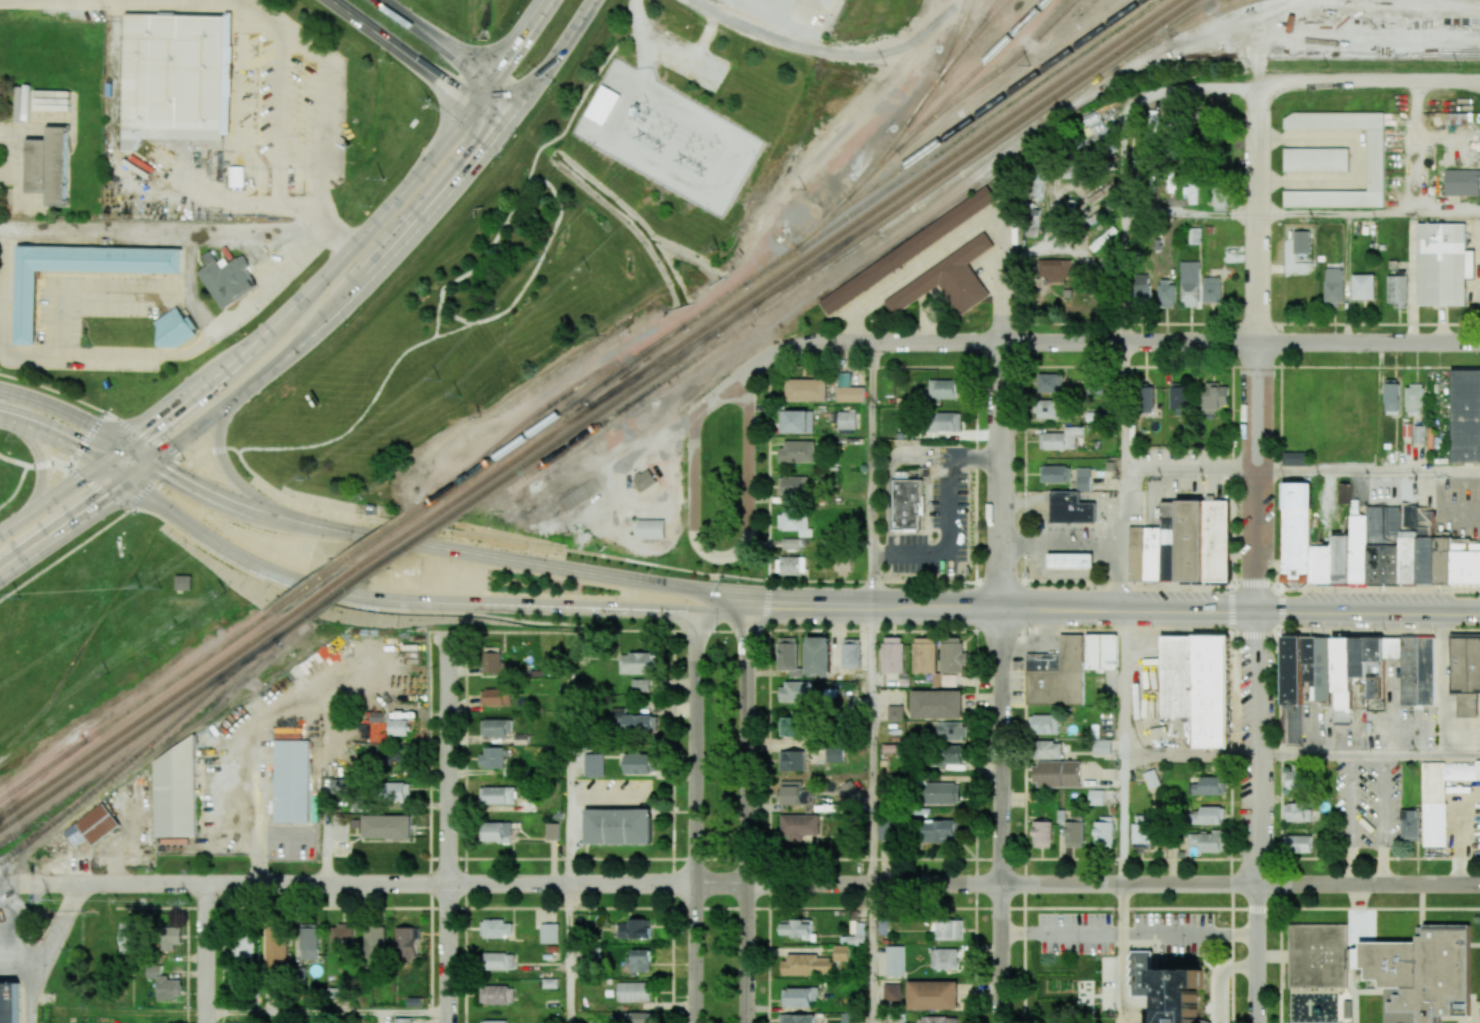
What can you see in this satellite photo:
railway: (1194, 10)
railway: (1199, 10)
railway: (1217, 12)
railway: (1207, 13)
railway: (952, 35)
railway: (955, 35)
railway: (966, 37)
railway: (972, 37)
railway: (1151, 40)
railway: (1151, 43)
road: (810, 48)
road: (452, 49)
road: (665, 59)
road: (418, 62)
power tower: (887, 64)
railway: (1112, 68)
railway: (971, 74)
railway: (1065, 75)
building: (177, 77)
traffic signals: (492, 78)
road: (1306, 85)
road: (325, 93)
railway: (959, 96)
railway: (922, 97)
railway: (923, 99)
traffic signals: (522, 100)
traffic signals: (474, 103)
building: (604, 105)
traffic signals: (503, 124)
power substation: (668, 134)
railway: (941, 139)
power tower: (652, 142)
railway: (991, 154)
road: (1124, 156)
building: (1375, 159)
railway: (876, 160)
building: (1317, 160)
power tower: (693, 164)
building: (49, 165)
railway: (920, 165)
railway: (952, 165)
building: (235, 176)
building: (249, 183)
building: (1463, 183)
building: (1038, 185)
power tower: (806, 189)
building: (1191, 194)
building: (1219, 199)
road: (1191, 214)
road: (1369, 215)
building: (1033, 219)
railway: (821, 221)
road: (140, 235)
building: (1195, 235)
building: (1301, 242)
power tower: (719, 248)
building: (904, 250)
road: (480, 261)
building: (1444, 264)
railway: (816, 267)
road: (913, 267)
road: (1004, 270)
building: (81, 273)
building: (1057, 273)
building: (226, 278)
railway: (772, 278)
road: (1124, 278)
building: (945, 279)
building: (1190, 283)
building: (1334, 285)
building: (1364, 286)
building: (1141, 287)
building: (1212, 290)
building: (1397, 290)
road: (86, 294)
building: (1166, 294)
railway: (814, 296)
road: (302, 297)
road: (509, 307)
road: (326, 315)
road: (438, 319)
park: (447, 328)
building: (174, 330)
road: (1109, 342)
road: (1260, 348)
railway: (701, 352)
road: (169, 354)
road: (996, 367)
railway: (652, 370)
building: (1049, 383)
building: (806, 388)
building: (945, 388)
road: (53, 389)
building: (850, 392)
building: (1178, 396)
building: (1214, 397)
building: (1392, 397)
building: (1147, 399)
building: (1414, 399)
railway: (556, 401)
railway: (562, 409)
building: (1048, 409)
road: (1125, 409)
building: (1465, 415)
road: (114, 416)
road: (81, 419)
building: (847, 419)
building: (799, 421)
building: (948, 421)
railway: (581, 424)
building: (1408, 429)
building: (915, 433)
building: (907, 435)
building: (1060, 439)
road: (68, 442)
traffic signals: (129, 446)
building: (797, 451)
road: (975, 456)
building: (1295, 458)
road: (20, 461)
railway: (512, 462)
traffic signals: (156, 463)
traffic signals: (104, 464)
road: (42, 468)
road: (872, 473)
road: (1369, 473)
road: (1192, 474)
road: (1002, 475)
building: (643, 477)
road: (891, 477)
road: (233, 478)
power tower: (310, 478)
building: (1083, 479)
traffic signals: (130, 483)
building: (791, 485)
road: (16, 487)
building: (1345, 492)
building: (579, 493)
building: (907, 502)
road: (132, 505)
railway: (423, 506)
building: (1071, 508)
building: (795, 523)
building: (650, 528)
building: (1295, 532)
road: (1063, 540)
building: (1192, 540)
building: (1217, 540)
road: (420, 542)
road: (947, 542)
road: (1124, 542)
building: (791, 543)
building: (1384, 544)
building: (1409, 544)
building: (1426, 546)
building: (1171, 549)
building: (1359, 549)
road: (710, 552)
building: (1137, 553)
building: (1154, 553)
building: (1341, 559)
building: (1443, 560)
building: (1070, 561)
building: (1466, 563)
building: (1312, 564)
building: (1324, 564)
building: (793, 565)
railway: (361, 566)
railway: (336, 567)
railway: (376, 567)
road: (846, 580)
building: (184, 582)
power tower: (142, 588)
traffic signals: (695, 590)
road: (721, 595)
road: (423, 598)
traffic signals: (747, 601)
traffic signals: (695, 606)
road: (1231, 608)
road: (1113, 609)
road: (1281, 609)
road: (713, 630)
building: (851, 653)
building: (893, 654)
building: (924, 655)
building: (952, 655)
building: (579, 656)
building: (788, 656)
building: (818, 656)
building: (493, 660)
building: (638, 663)
building: (1342, 666)
building: (1068, 668)
building: (1291, 671)
building: (1427, 671)
building: (1466, 674)
railway: (178, 677)
road: (1123, 683)
building: (645, 684)
building: (795, 691)
building: (1214, 691)
building: (495, 696)
park: (721, 704)
building: (937, 704)
building: (895, 712)
railway: (143, 717)
building: (635, 720)
railway: (151, 723)
building: (1045, 724)
building: (790, 725)
building: (399, 727)
building: (497, 727)
building: (949, 730)
road: (872, 744)
building: (1102, 747)
building: (1048, 750)
railway: (139, 752)
building: (835, 754)
road: (1190, 756)
road: (1369, 756)
building: (492, 757)
building: (949, 757)
building: (792, 760)
building: (640, 763)
building: (594, 765)
railway: (44, 769)
railway: (43, 773)
building: (1057, 773)
building: (1295, 777)
building: (1151, 778)
building: (292, 781)
building: (340, 786)
building: (1212, 786)
building: (847, 790)
building: (396, 791)
building: (176, 792)
building: (795, 793)
building: (943, 793)
road: (569, 794)
building: (497, 795)
building: (1441, 796)
building: (1096, 797)
road: (695, 806)
road: (746, 811)
building: (1299, 812)
road: (1002, 816)
building: (1061, 816)
building: (1209, 816)
road: (1258, 816)
road: (1123, 820)
road: (1352, 820)
road: (1385, 820)
road: (328, 823)
building: (98, 824)
building: (1410, 824)
building: (798, 825)
building: (386, 826)
road: (672, 826)
road: (768, 826)
building: (618, 828)
building: (938, 830)
building: (497, 831)
building: (552, 831)
building: (1074, 831)
road: (446, 832)
building: (1103, 832)
building: (1042, 833)
building: (1141, 835)
road: (1464, 836)
building: (1209, 841)
building: (1299, 843)
road: (356, 884)
road: (1087, 885)
power tower: (51, 899)
power tower: (191, 901)
building: (884, 922)
building: (496, 928)
building: (796, 928)
building: (634, 929)
building: (950, 930)
building: (551, 931)
road: (1129, 932)
building: (128, 936)
building: (171, 937)
building: (342, 938)
building: (309, 941)
building: (375, 942)
building: (407, 942)
building: (244, 945)
building: (275, 946)
road: (1122, 948)
building: (592, 950)
road: (204, 953)
building: (841, 953)
road: (871, 953)
road: (569, 954)
building: (1319, 955)
building: (945, 958)
building: (896, 959)
building: (499, 961)
building: (640, 961)
building: (807, 964)
building: (1421, 974)
road: (1220, 978)
building: (551, 982)
building: (164, 983)
building: (1166, 987)
building: (635, 991)
building: (892, 991)
building: (935, 993)
building: (497, 995)
building: (801, 997)
road: (128, 1012)
road: (325, 1012)
building: (631, 1017)
building: (797, 1018)
building: (851, 1018)
building: (938, 1019)
building: (402, 1020)
building: (496, 1021)
building: (241, 1022)

